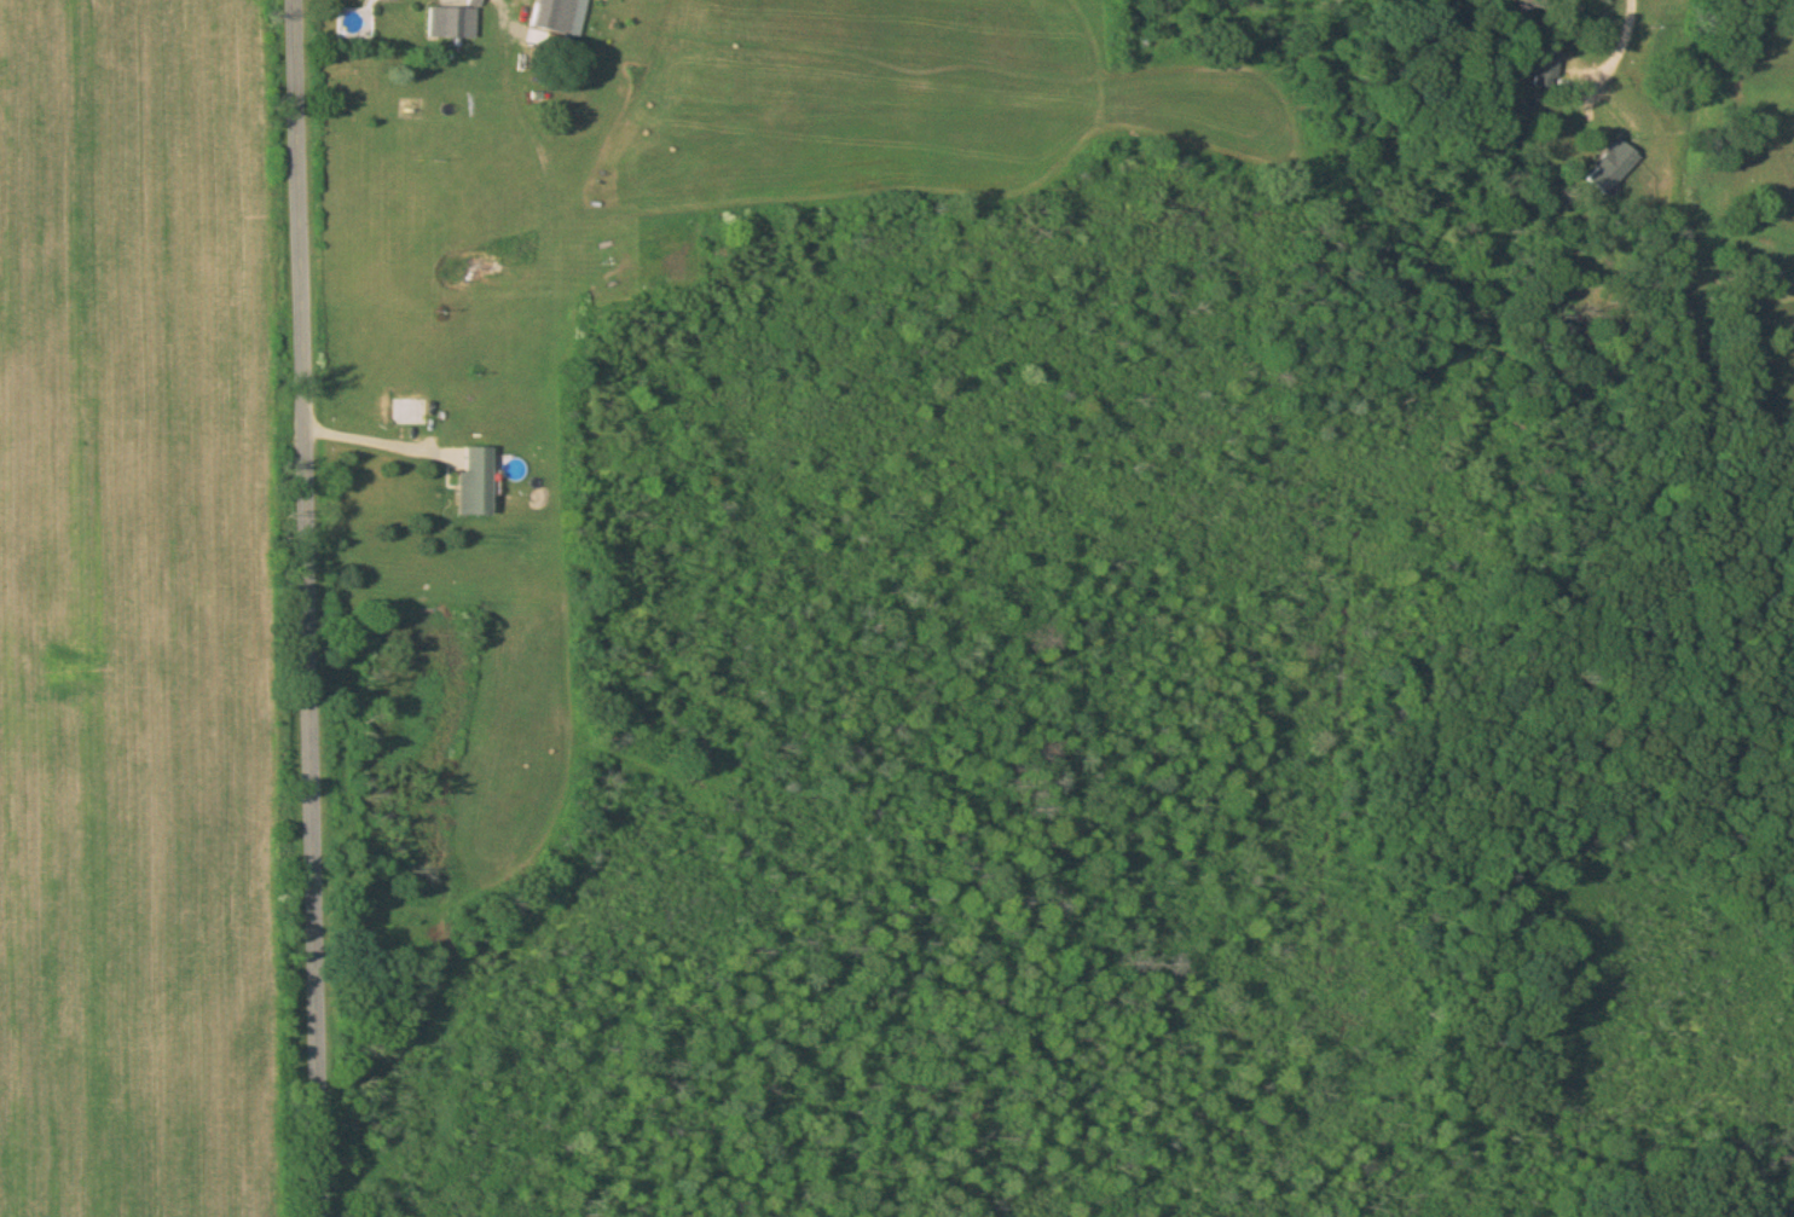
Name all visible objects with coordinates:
building: (552, 16)
building: (451, 24)
road: (1616, 47)
building: (1544, 65)
building: (1611, 168)
road: (372, 442)
building: (473, 482)
road: (311, 608)

